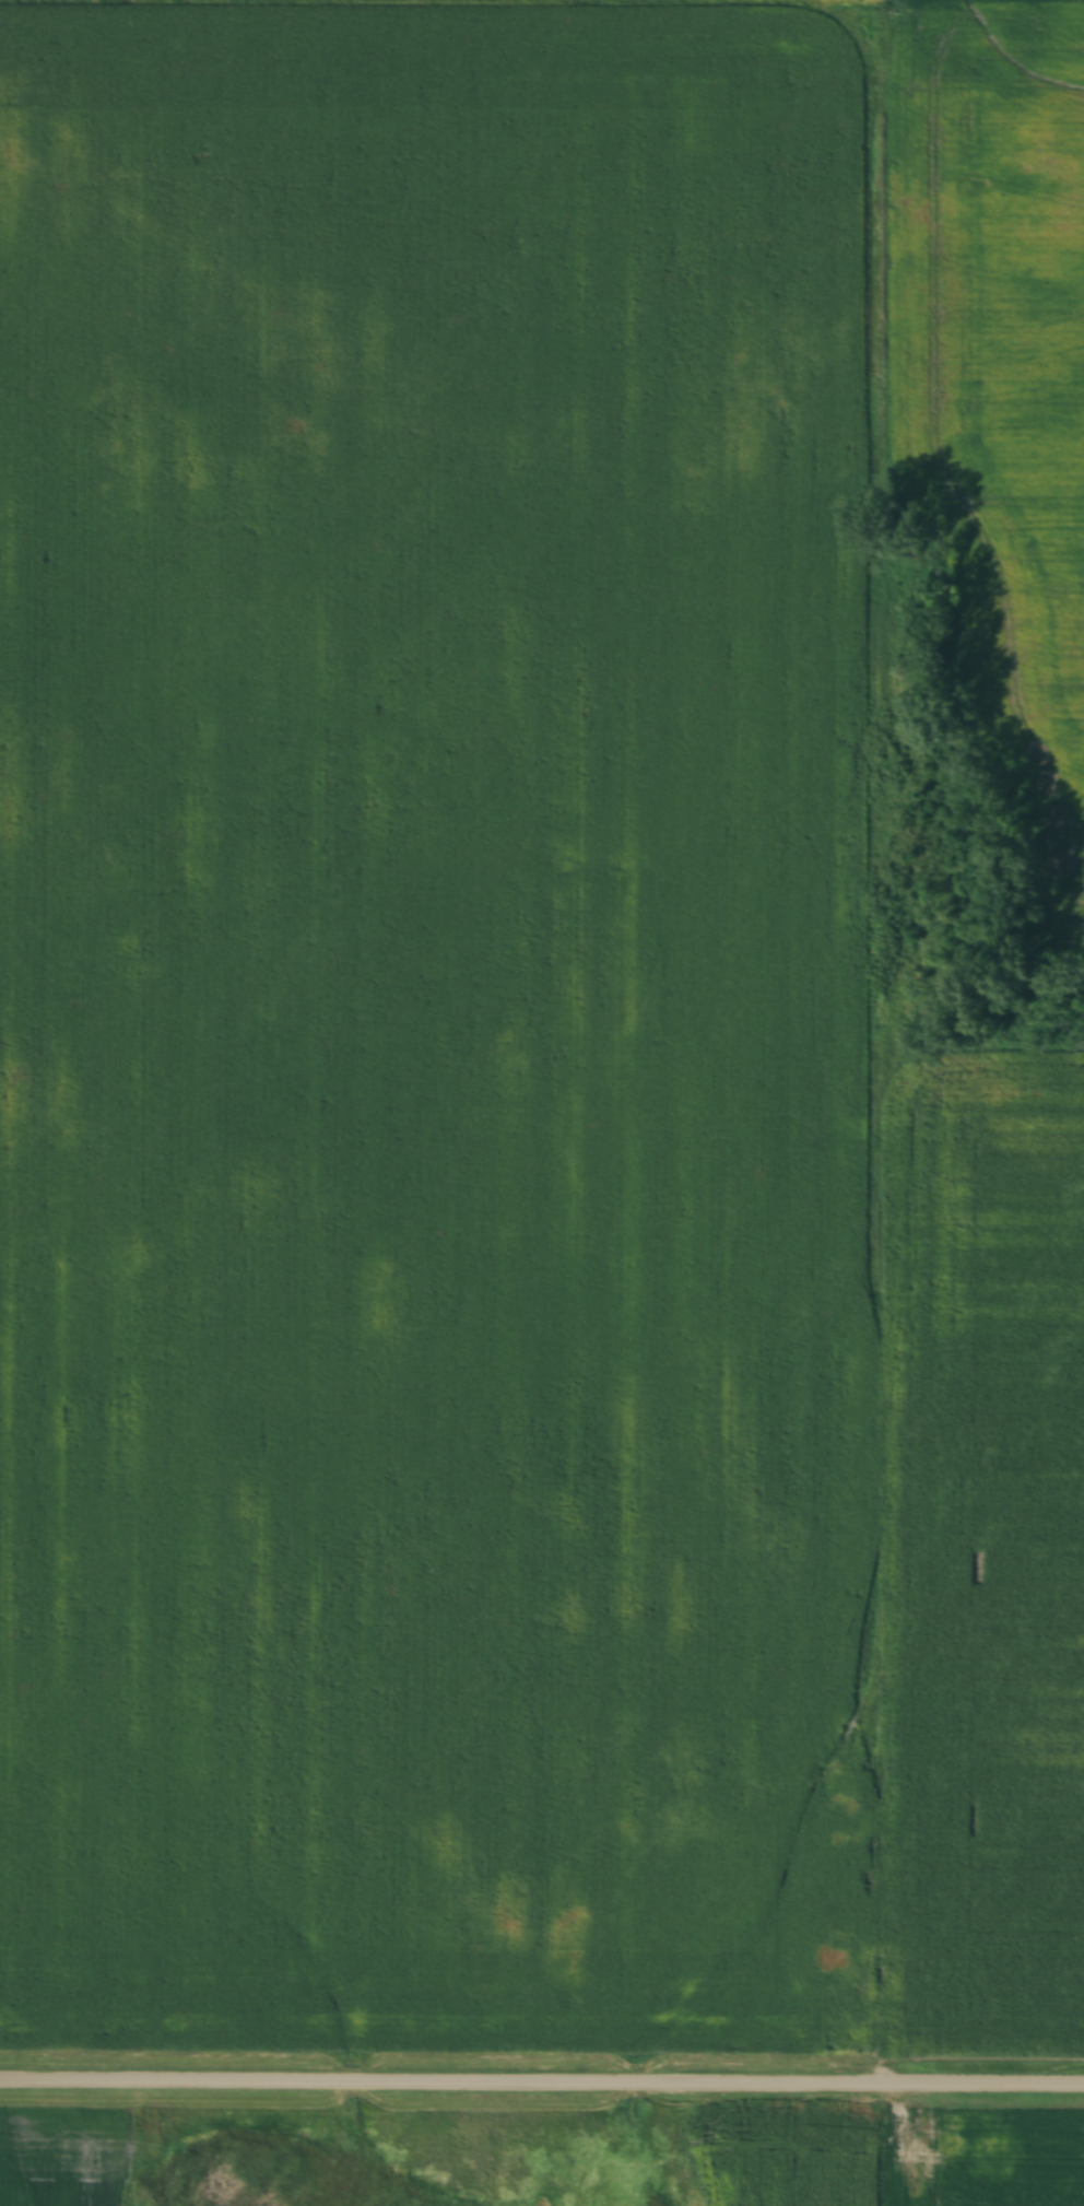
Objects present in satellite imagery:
road: (542, 2084)

